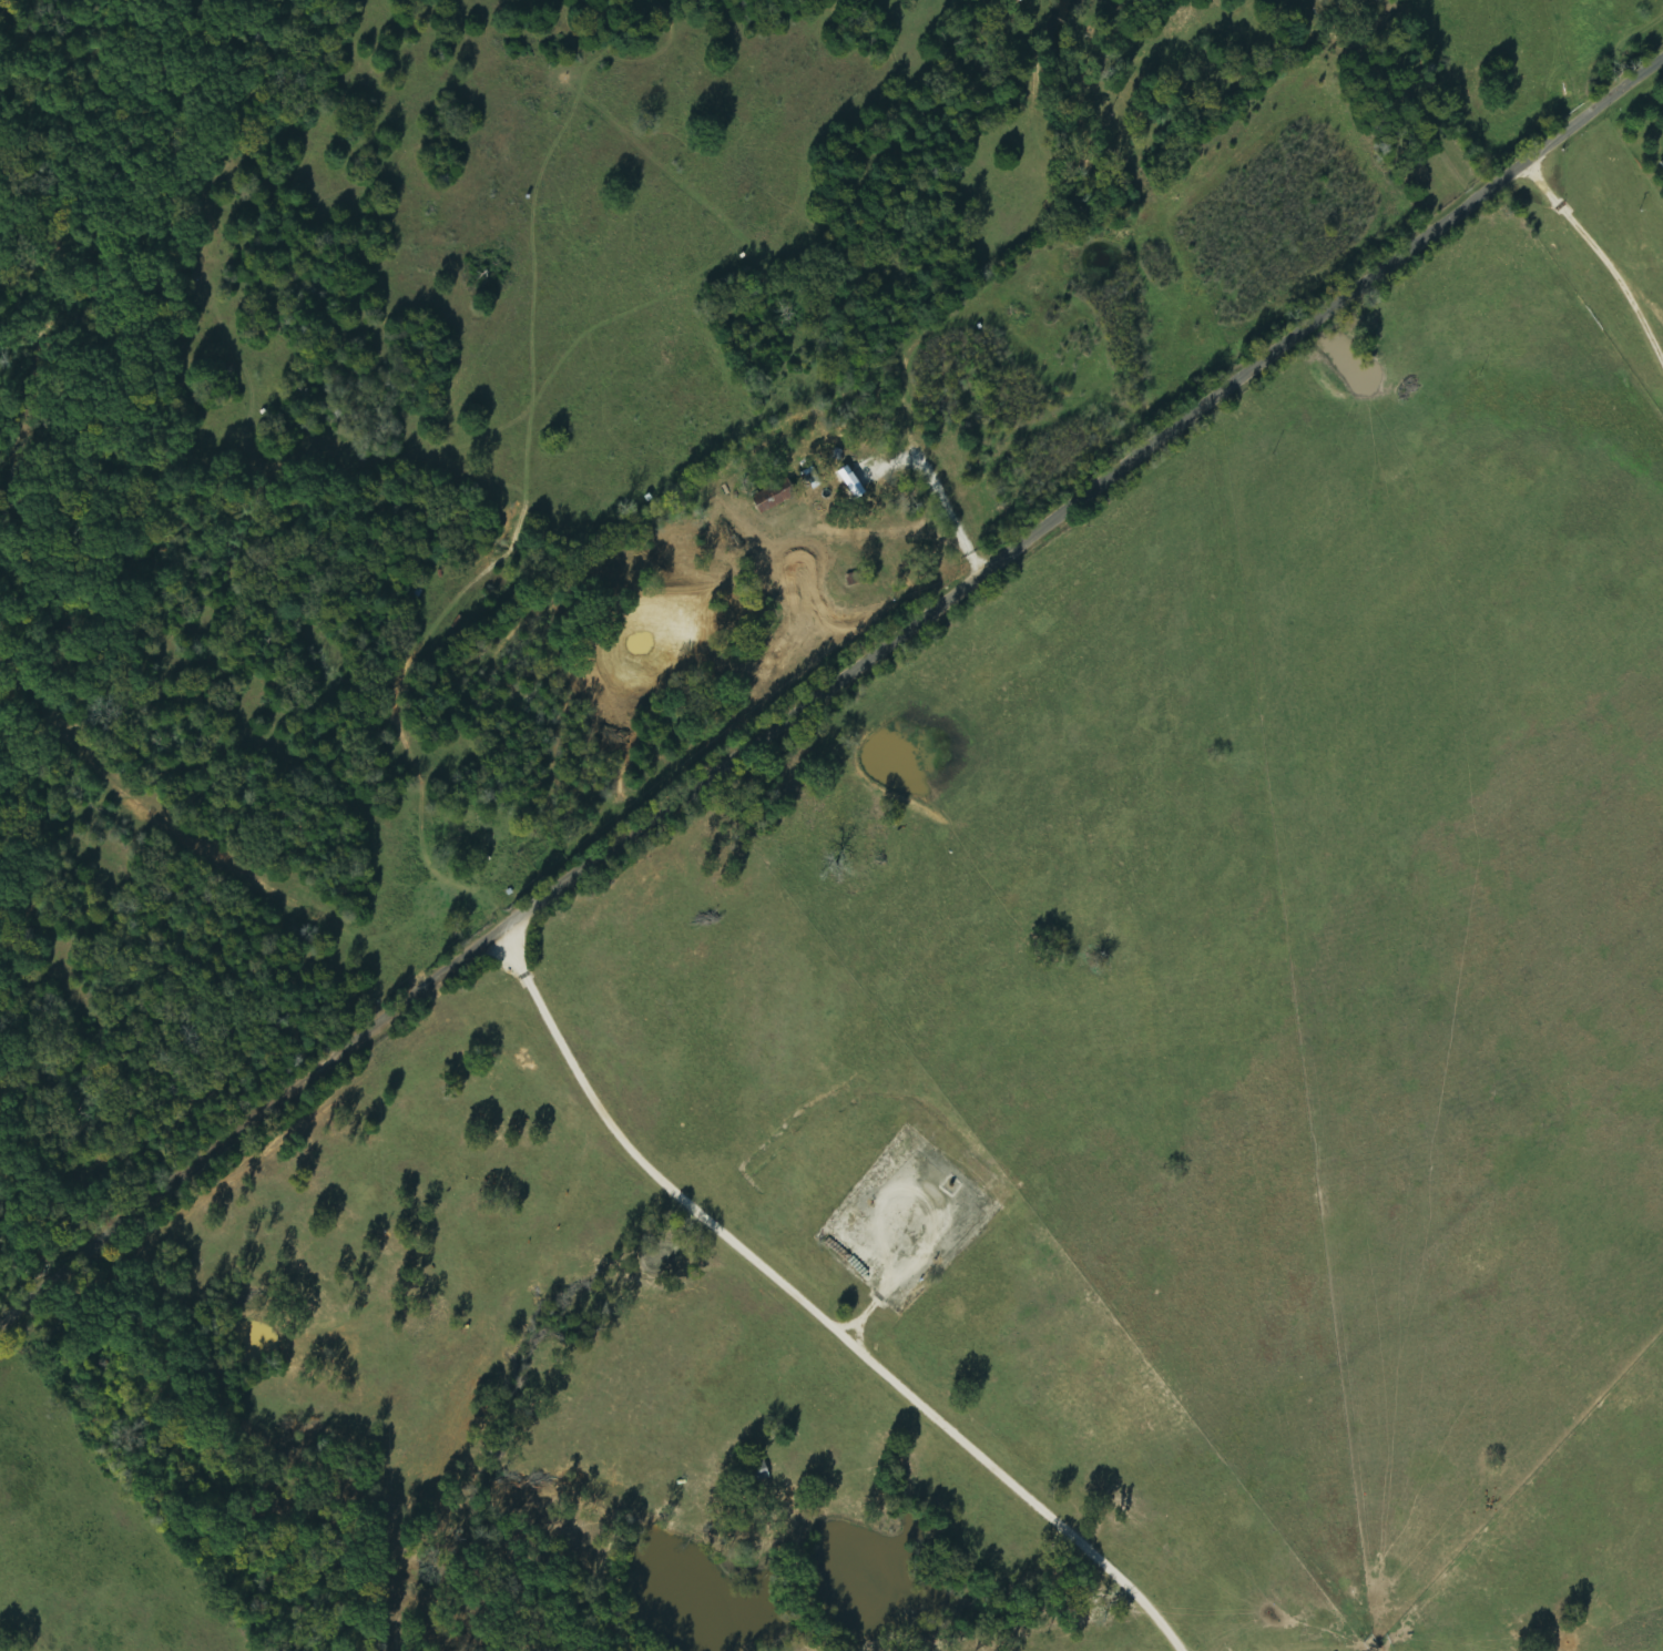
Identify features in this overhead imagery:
park: (1345, 23)
building: (1661, 163)
road: (885, 254)
road: (1573, 283)
building: (777, 499)
road: (828, 693)
road: (788, 1314)

